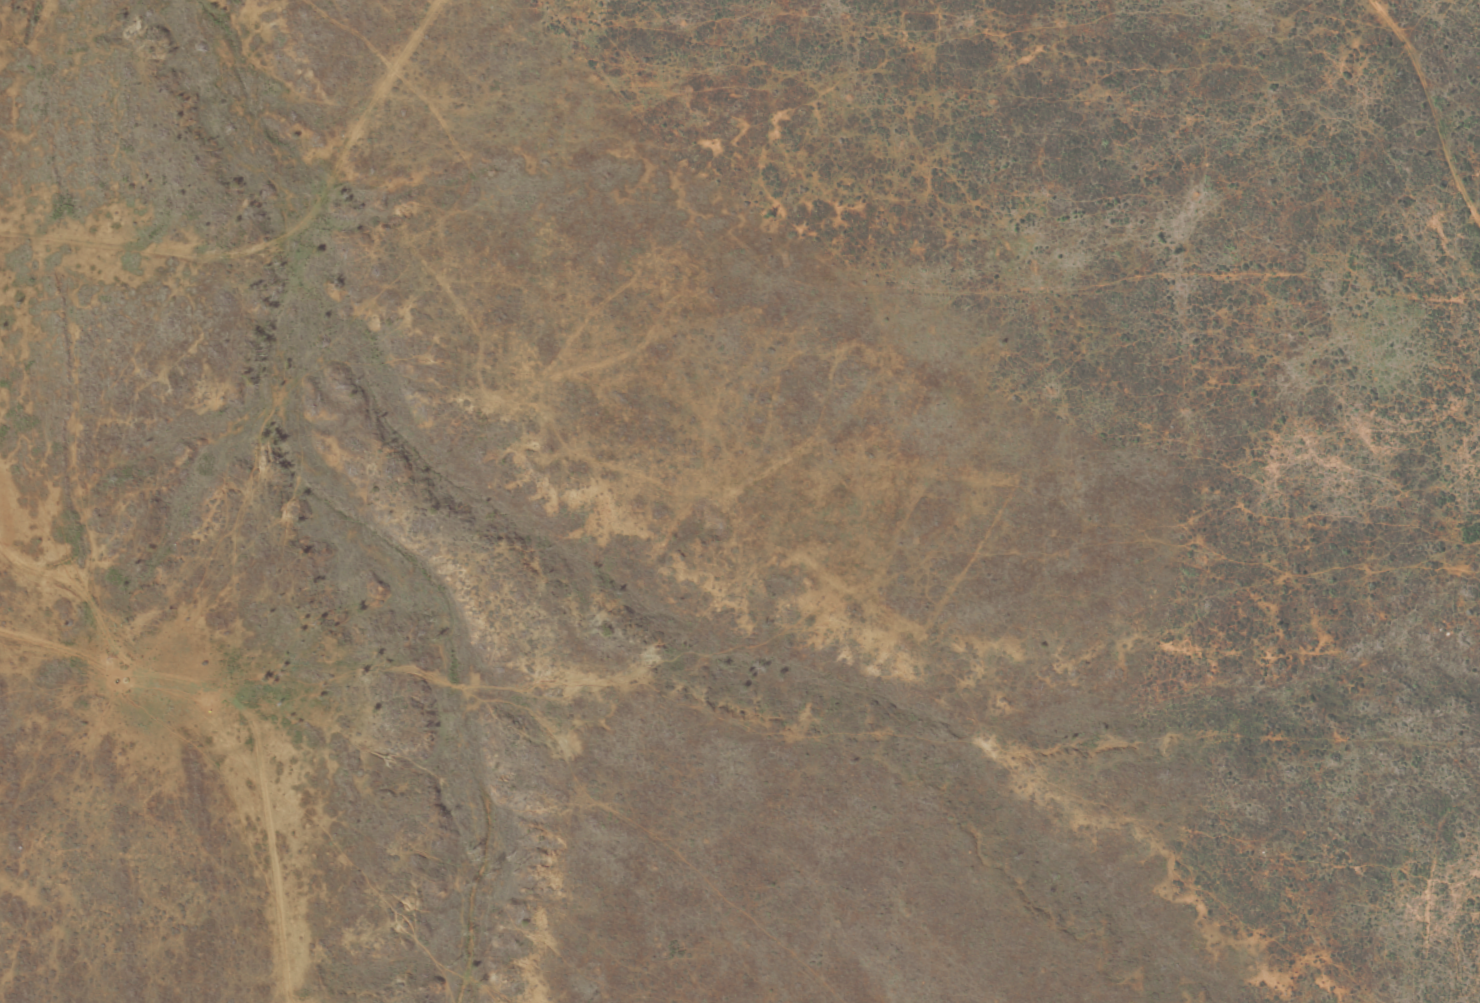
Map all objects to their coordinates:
road: (1404, 107)
road: (262, 210)
road: (135, 658)

